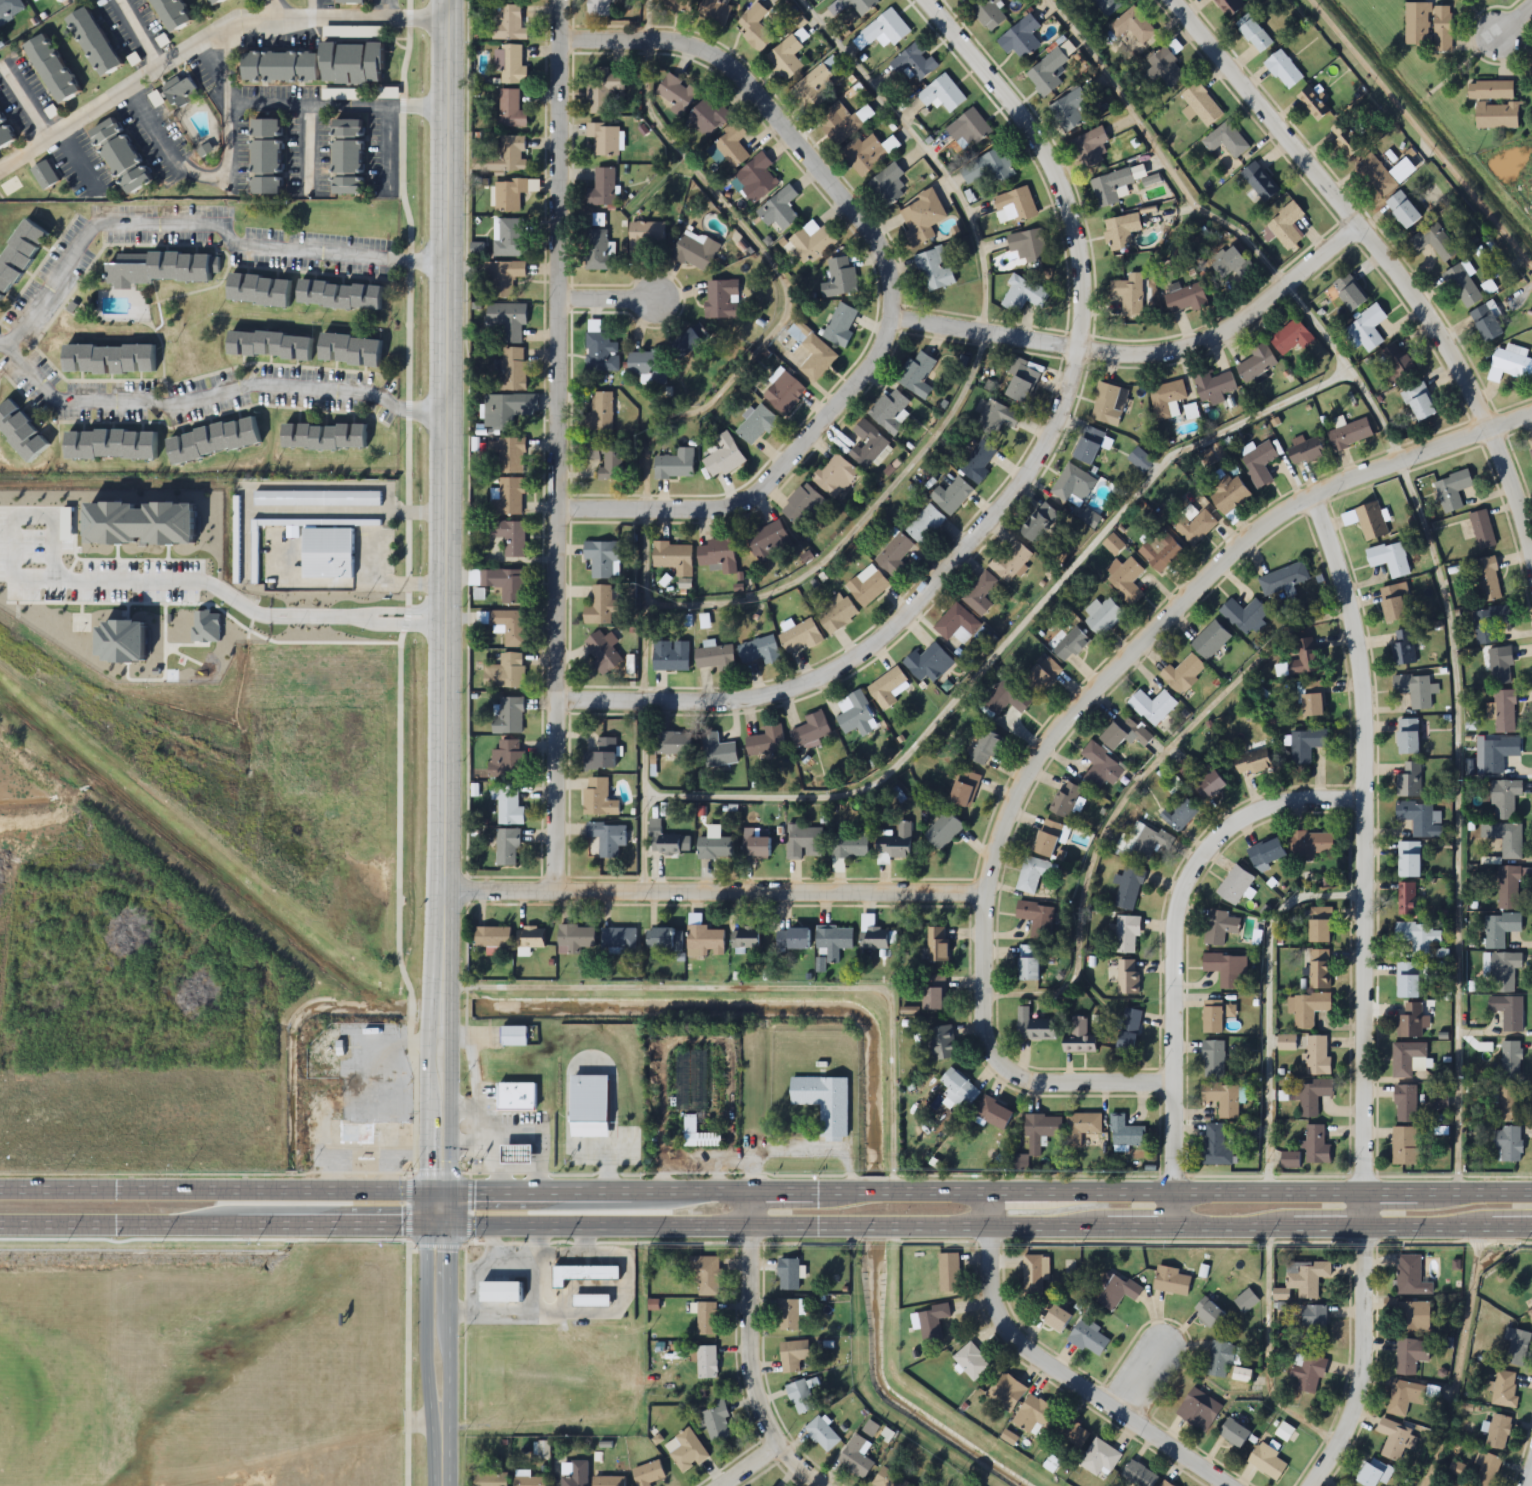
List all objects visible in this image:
building: (965, 0)
building: (30, 1)
building: (354, 1)
building: (216, 2)
building: (676, 5)
building: (859, 5)
building: (1229, 6)
building: (1104, 7)
building: (597, 8)
building: (10, 9)
building: (180, 9)
road: (281, 9)
road: (308, 9)
road: (390, 9)
building: (714, 11)
building: (988, 13)
road: (1514, 19)
building: (509, 25)
building: (1132, 26)
building: (1428, 26)
building: (755, 28)
building: (885, 29)
building: (98, 32)
road: (140, 33)
building: (1255, 35)
road: (207, 37)
building: (1020, 39)
building: (356, 55)
building: (786, 58)
building: (282, 59)
building: (56, 60)
building: (914, 63)
building: (513, 64)
building: (1166, 67)
building: (1283, 70)
building: (1048, 72)
building: (181, 79)
building: (818, 84)
building: (1490, 90)
building: (604, 91)
building: (676, 93)
building: (942, 94)
road: (24, 99)
road: (334, 99)
building: (1313, 103)
building: (1200, 105)
building: (511, 109)
building: (1070, 109)
building: (1497, 115)
building: (708, 117)
building: (843, 122)
building: (6, 126)
building: (968, 130)
road: (1420, 133)
building: (605, 138)
building: (1345, 138)
building: (1226, 140)
building: (121, 142)
road: (305, 142)
building: (268, 145)
building: (732, 146)
building: (1091, 148)
building: (352, 149)
building: (868, 154)
building: (504, 157)
road: (222, 164)
building: (990, 167)
building: (1384, 174)
building: (45, 175)
building: (756, 178)
building: (1260, 181)
building: (1116, 185)
building: (890, 186)
building: (602, 188)
building: (509, 195)
road: (1310, 196)
building: (1016, 204)
building: (1403, 210)
building: (779, 211)
building: (921, 218)
road: (197, 226)
building: (1285, 228)
building: (1121, 231)
building: (645, 236)
building: (510, 238)
building: (1435, 242)
building: (812, 243)
building: (1028, 245)
building: (599, 251)
building: (695, 251)
building: (20, 254)
road: (1380, 254)
building: (1232, 264)
building: (165, 268)
building: (934, 270)
building: (503, 279)
building: (840, 279)
building: (1463, 286)
building: (262, 290)
road: (899, 291)
building: (1348, 292)
building: (1130, 294)
building: (342, 295)
building: (1023, 295)
building: (1, 297)
building: (1184, 298)
road: (607, 299)
building: (722, 299)
building: (507, 320)
building: (1486, 322)
building: (840, 326)
building: (1366, 331)
building: (1291, 337)
building: (688, 342)
building: (271, 345)
building: (353, 350)
building: (601, 352)
building: (812, 352)
road: (1147, 354)
building: (111, 359)
building: (1257, 363)
building: (1510, 363)
building: (648, 366)
building: (512, 368)
building: (1386, 370)
building: (916, 374)
building: (1021, 384)
building: (1214, 386)
road: (212, 390)
building: (784, 393)
building: (1167, 399)
building: (1419, 402)
building: (1109, 404)
building: (507, 409)
building: (890, 411)
building: (599, 412)
road: (683, 412)
building: (996, 417)
building: (756, 425)
building: (23, 431)
building: (1349, 434)
building: (326, 437)
building: (216, 441)
building: (868, 444)
building: (112, 445)
building: (1088, 446)
road: (555, 447)
building: (1531, 449)
building: (1305, 451)
building: (511, 456)
building: (723, 457)
building: (606, 459)
building: (1140, 460)
building: (978, 463)
building: (1259, 464)
building: (675, 465)
building: (834, 476)
road: (1018, 487)
building: (1452, 490)
building: (1228, 495)
building: (951, 496)
building: (508, 497)
building: (318, 499)
road: (28, 506)
building: (803, 506)
building: (1371, 521)
building: (1038, 523)
building: (925, 525)
building: (1194, 527)
building: (1482, 529)
road: (1423, 532)
building: (509, 536)
building: (768, 541)
building: (1161, 551)
building: (329, 553)
building: (718, 555)
building: (894, 555)
building: (673, 557)
building: (602, 559)
building: (1389, 559)
building: (1011, 562)
building: (1488, 579)
building: (1126, 580)
building: (1284, 580)
building: (501, 583)
building: (867, 588)
road: (228, 593)
building: (979, 594)
building: (1393, 602)
building: (604, 603)
road: (445, 613)
building: (835, 614)
building: (1245, 616)
building: (1103, 617)
road: (398, 620)
building: (956, 622)
building: (1489, 622)
building: (506, 626)
road: (1013, 634)
building: (799, 636)
building: (1210, 641)
building: (1070, 645)
building: (1403, 648)
building: (759, 650)
building: (602, 651)
building: (670, 656)
building: (713, 657)
building: (1307, 658)
building: (928, 663)
building: (1500, 665)
building: (505, 672)
building: (1183, 674)
building: (1041, 675)
building: (886, 688)
building: (1416, 690)
building: (1006, 698)
building: (1312, 698)
building: (1152, 707)
road: (1073, 709)
building: (1505, 712)
building: (856, 715)
building: (509, 716)
building: (811, 730)
building: (1124, 733)
building: (1407, 737)
building: (766, 742)
building: (671, 744)
building: (1306, 744)
building: (985, 749)
building: (718, 751)
building: (1499, 753)
building: (601, 756)
building: (507, 761)
building: (1253, 763)
building: (1101, 767)
building: (1409, 781)
building: (1208, 786)
building: (963, 789)
road: (1127, 793)
building: (598, 799)
building: (1504, 799)
building: (1067, 801)
building: (507, 805)
building: (1183, 814)
building: (1422, 819)
building: (943, 831)
building: (607, 838)
building: (1049, 838)
building: (1505, 839)
building: (662, 840)
building: (804, 842)
building: (894, 842)
building: (1143, 842)
building: (1312, 844)
building: (848, 845)
building: (755, 846)
building: (507, 847)
building: (715, 847)
building: (1266, 852)
building: (1409, 859)
building: (1032, 874)
building: (1234, 885)
building: (1129, 887)
building: (1509, 888)
road: (714, 895)
building: (1406, 900)
building: (1036, 918)
building: (1319, 926)
building: (1220, 927)
building: (1500, 929)
building: (1127, 934)
building: (491, 937)
building: (529, 938)
building: (1419, 938)
building: (574, 939)
building: (618, 939)
building: (704, 939)
building: (745, 939)
building: (792, 939)
building: (874, 939)
building: (663, 940)
building: (833, 941)
building: (937, 945)
road: (1174, 952)
building: (1028, 963)
building: (1224, 969)
building: (1319, 969)
building: (1504, 971)
building: (1128, 977)
building: (1407, 980)
road: (762, 990)
road: (1361, 992)
building: (933, 993)
road: (1268, 1008)
building: (1307, 1009)
building: (1508, 1012)
building: (1212, 1017)
building: (1411, 1022)
building: (1033, 1026)
building: (516, 1028)
building: (1128, 1030)
building: (1078, 1038)
building: (1286, 1042)
building: (940, 1043)
building: (1317, 1055)
building: (1408, 1059)
building: (1213, 1060)
building: (1511, 1060)
building: (518, 1087)
building: (958, 1088)
building: (1313, 1096)
building: (593, 1097)
building: (1223, 1099)
building: (823, 1101)
building: (1405, 1104)
building: (1506, 1104)
building: (993, 1113)
building: (1081, 1127)
building: (1041, 1130)
building: (356, 1133)
building: (1125, 1133)
building: (1508, 1143)
building: (1215, 1145)
building: (520, 1146)
gas station: (520, 1146)
building: (1317, 1146)
building: (1404, 1146)
building: (1289, 1160)
traffic signals: (437, 1192)
road: (766, 1192)
traffic signals: (437, 1226)
road: (766, 1227)
building: (585, 1272)
building: (948, 1272)
building: (1034, 1274)
building: (787, 1275)
building: (706, 1276)
building: (1411, 1276)
building: (1306, 1277)
building: (1171, 1281)
building: (498, 1291)
building: (1118, 1292)
building: (590, 1300)
building: (1246, 1301)
building: (1208, 1313)
building: (787, 1315)
building: (1412, 1315)
building: (1530, 1315)
building: (1056, 1318)
building: (706, 1319)
building: (932, 1323)
building: (1312, 1323)
building: (1088, 1339)
building: (1514, 1346)
road: (1269, 1350)
road: (746, 1353)
building: (793, 1355)
building: (1411, 1355)
road: (437, 1356)
building: (1220, 1359)
road: (1459, 1359)
building: (706, 1362)
building: (972, 1362)
road: (1048, 1372)
building: (1308, 1372)
road: (1140, 1377)
road: (864, 1389)
building: (1507, 1389)
building: (1006, 1392)
building: (800, 1397)
building: (1404, 1397)
building: (1198, 1410)
building: (1035, 1417)
building: (716, 1422)
building: (1072, 1432)
building: (1498, 1432)
building: (1233, 1433)
building: (821, 1434)
building: (1396, 1439)
building: (687, 1451)
building: (855, 1456)
building: (1099, 1458)
building: (1267, 1462)
road: (741, 1464)
road: (1523, 1467)
building: (1458, 1469)
building: (1484, 1470)
building: (647, 1473)
building: (1374, 1473)
building: (577, 1474)
building: (1138, 1475)
building: (887, 1478)
building: (489, 1479)
building: (529, 1481)
building: (608, 1481)
building: (1165, 1484)

